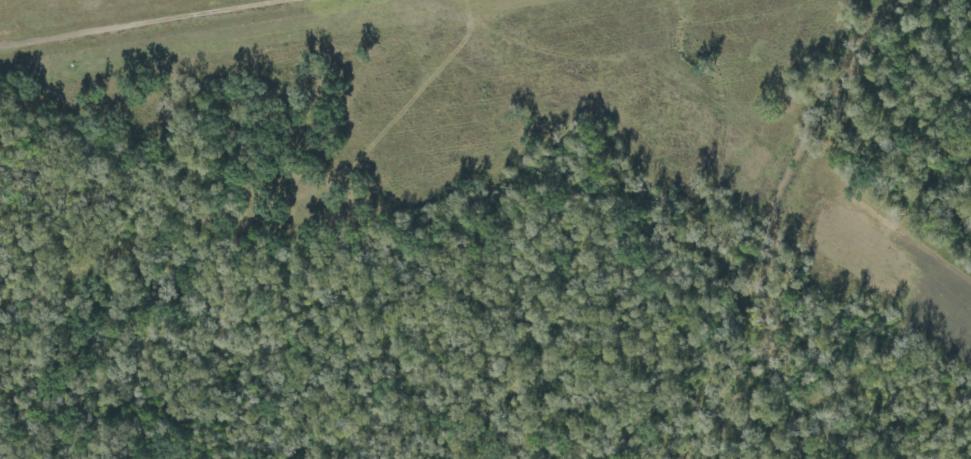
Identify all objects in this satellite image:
road: (168, 21)

